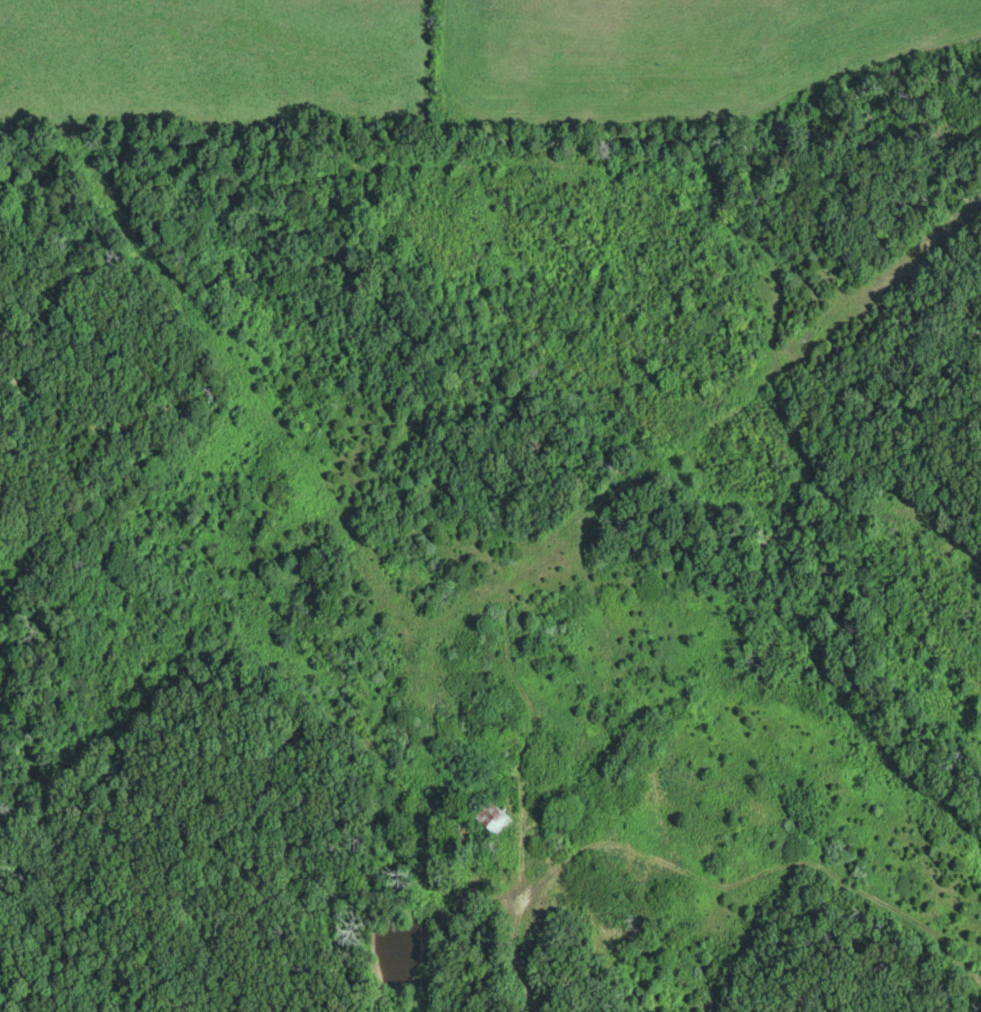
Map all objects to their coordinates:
road: (515, 926)

